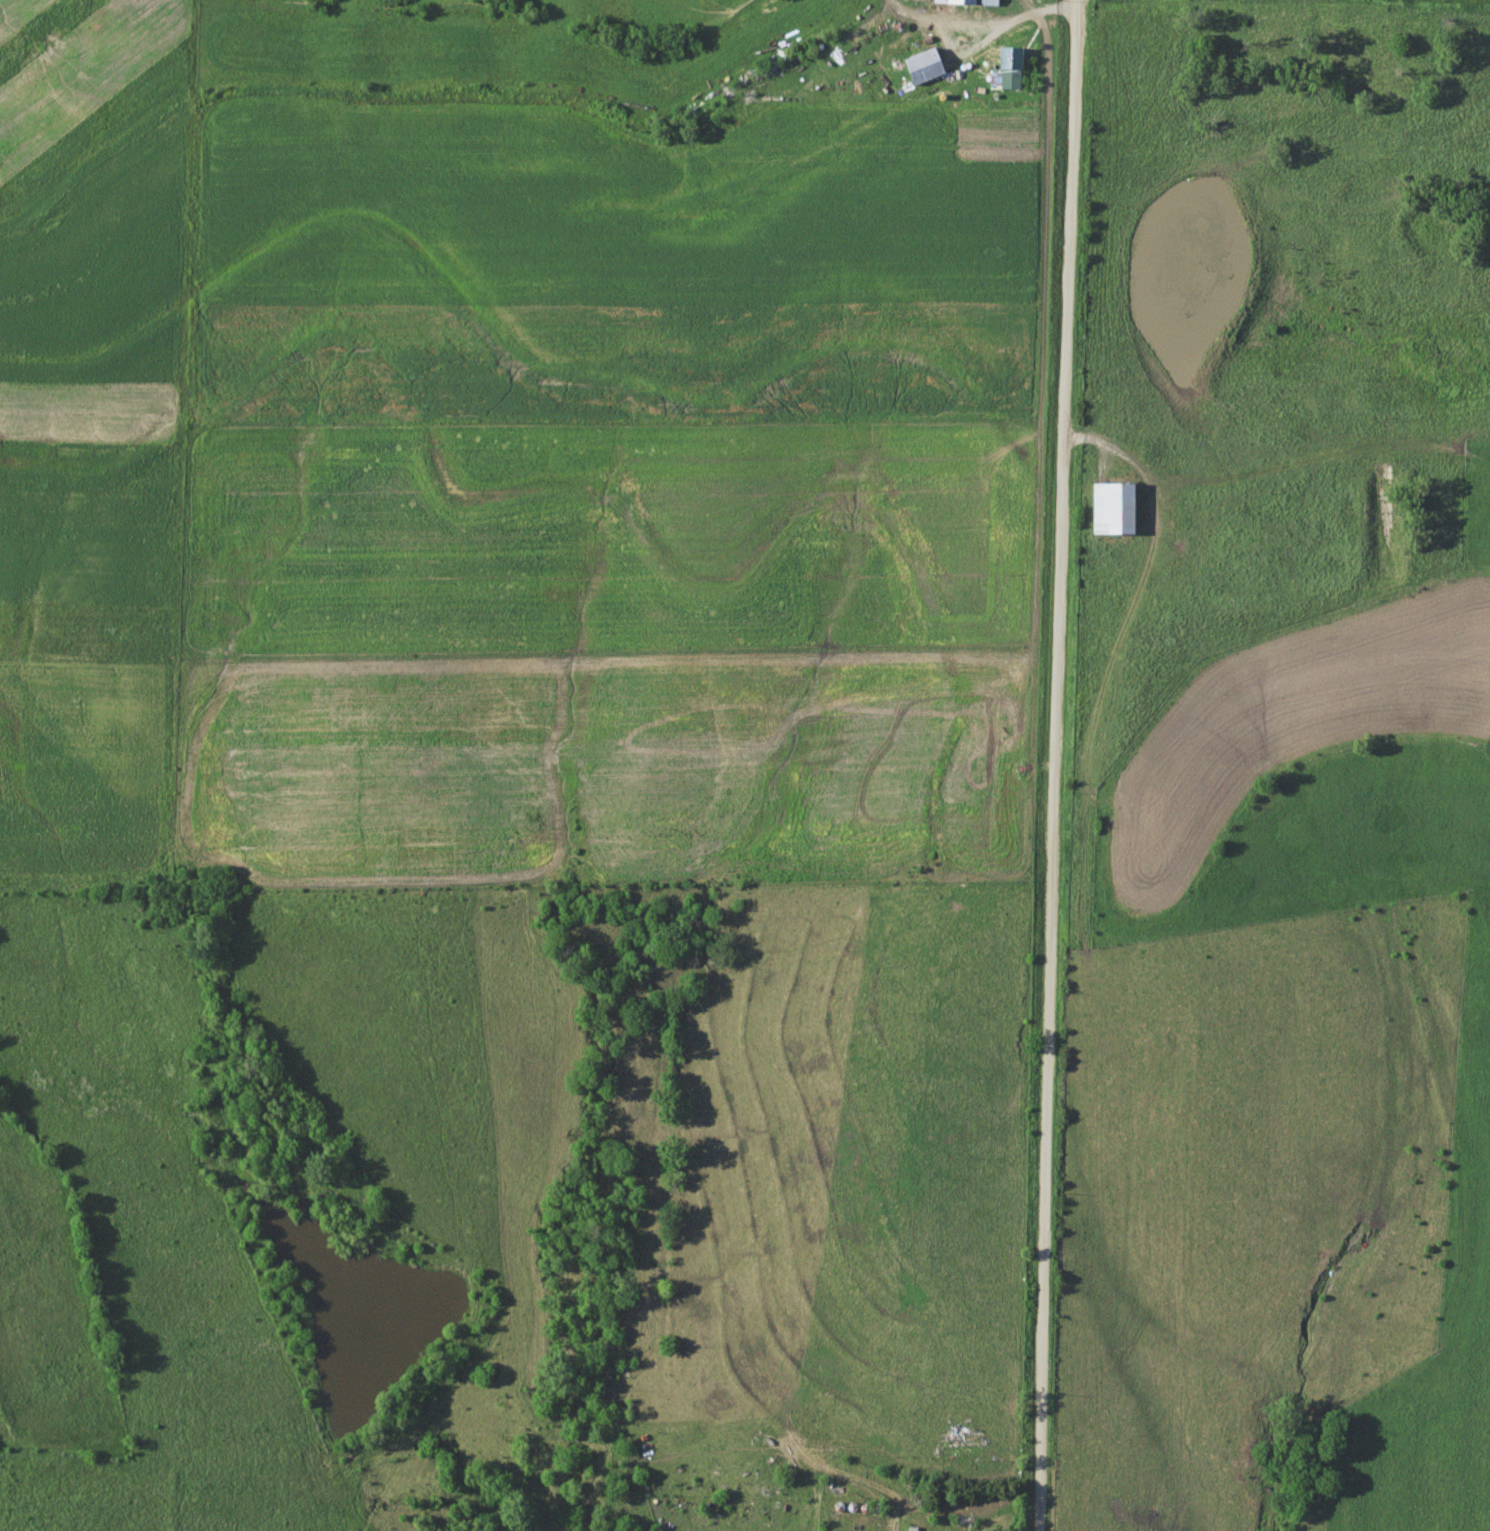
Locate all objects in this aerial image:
building: (1278, 40)
building: (1113, 509)
road: (1055, 765)

